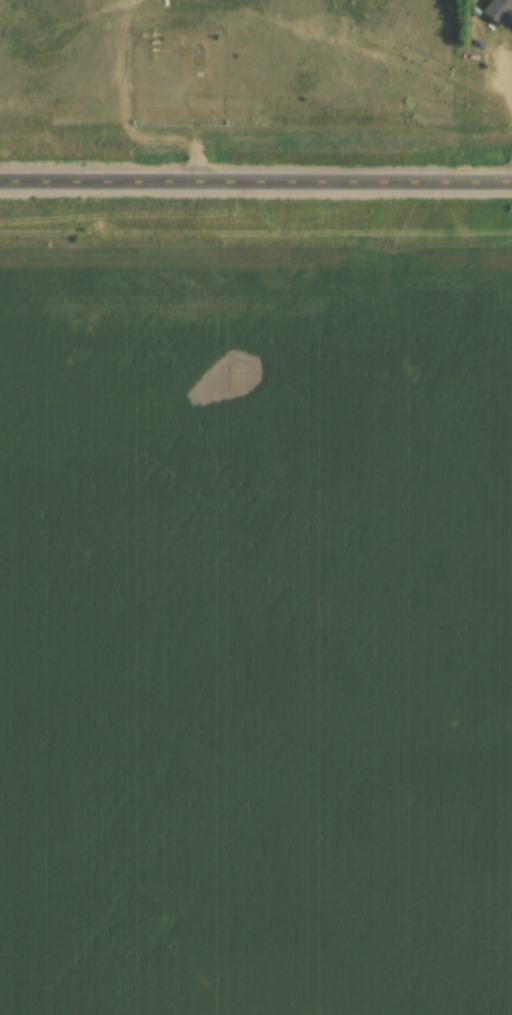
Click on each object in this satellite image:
building: (494, 8)
road: (255, 186)

